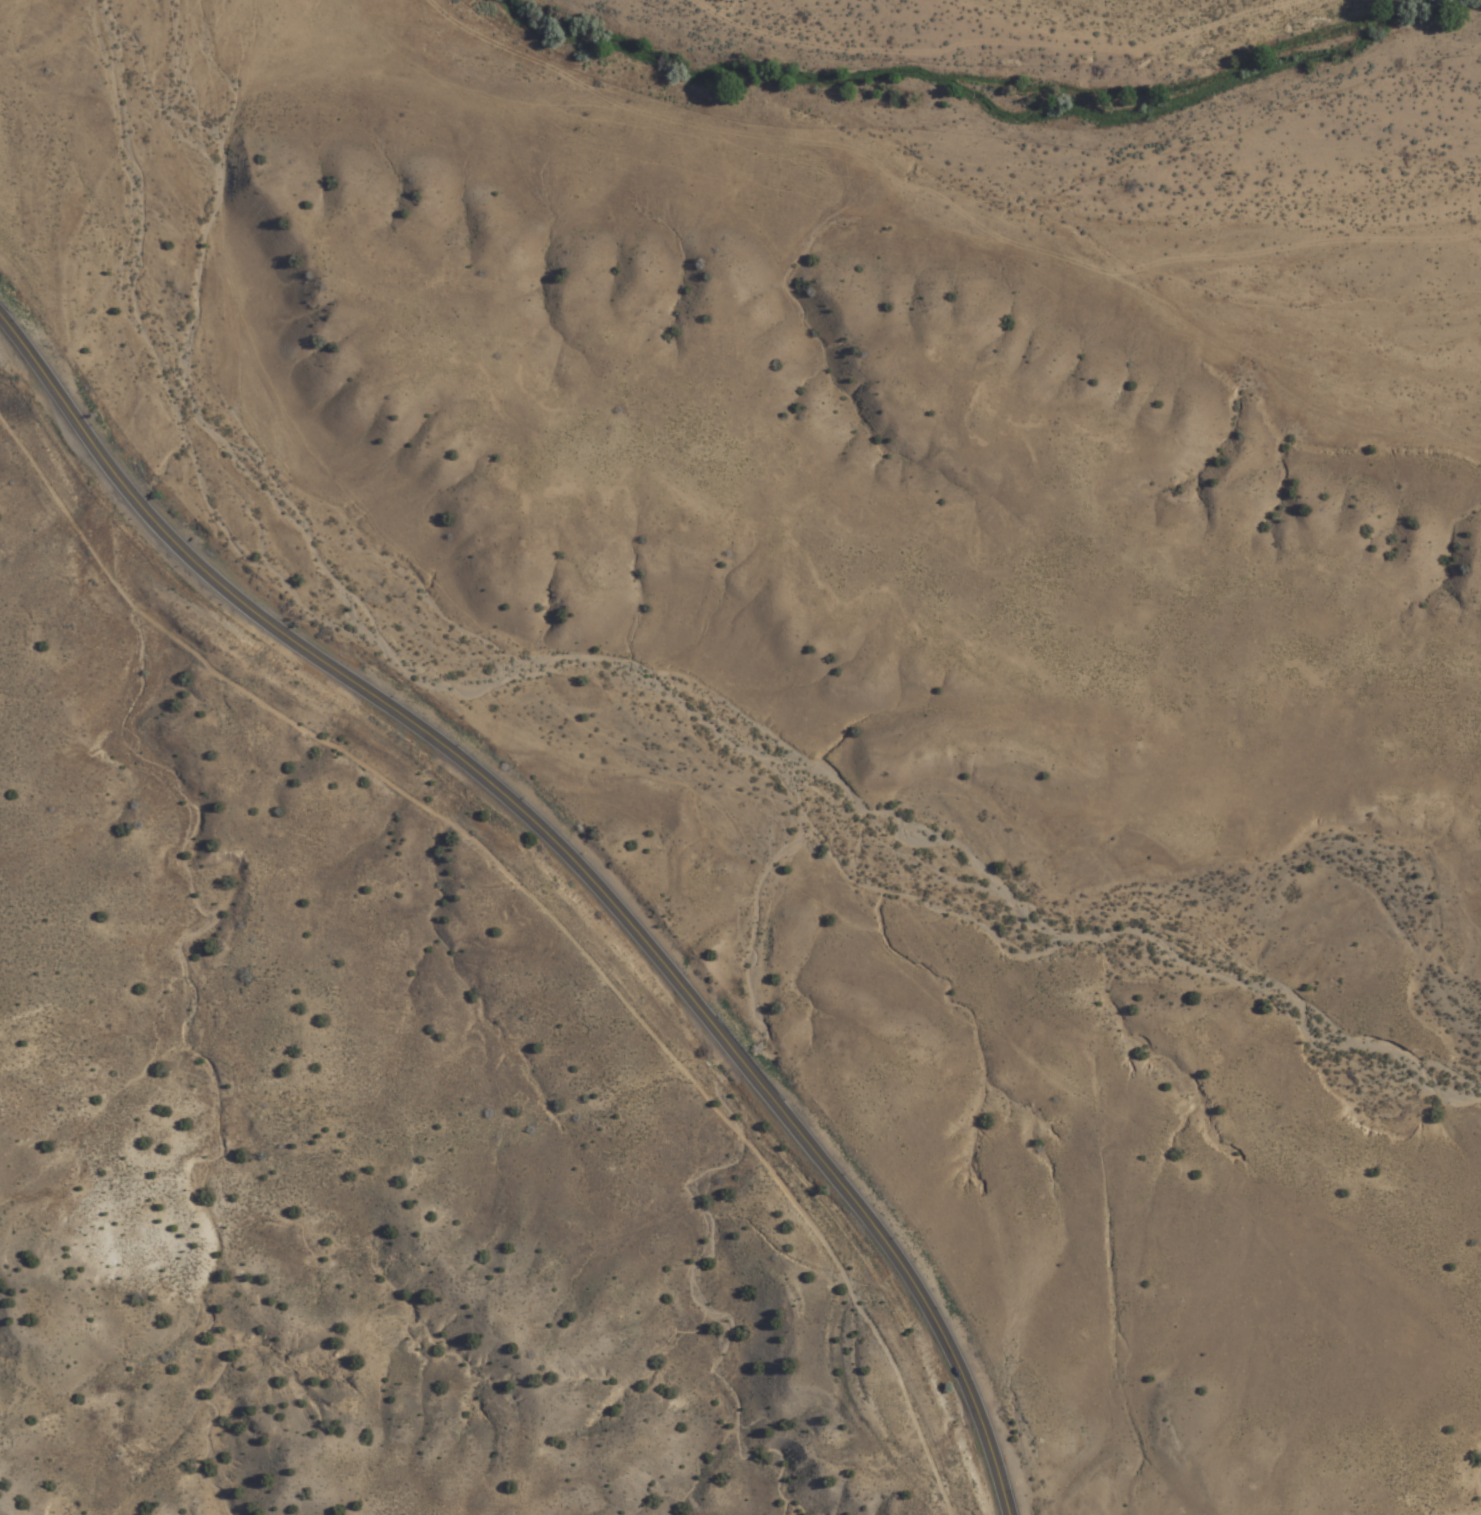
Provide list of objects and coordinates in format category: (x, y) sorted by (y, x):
river: (992, 112)
road: (570, 861)

